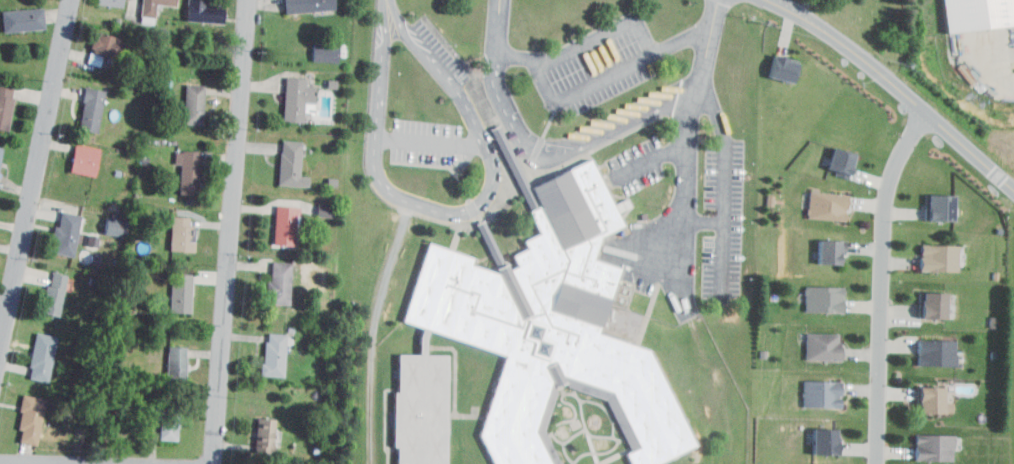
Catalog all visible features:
building: (111, 2)
road: (387, 4)
building: (308, 5)
building: (153, 6)
building: (205, 11)
building: (978, 13)
building: (25, 19)
road: (616, 28)
building: (109, 44)
parking lot: (440, 51)
building: (326, 52)
parking lot: (593, 67)
building: (782, 71)
road: (994, 72)
road: (896, 86)
road: (575, 90)
building: (299, 101)
building: (194, 104)
building: (6, 107)
building: (91, 109)
parking lot: (425, 142)
road: (431, 143)
road: (583, 143)
road: (655, 150)
building: (1, 153)
building: (85, 161)
building: (291, 164)
parking lot: (637, 164)
building: (842, 164)
road: (36, 166)
building: (190, 173)
road: (727, 179)
road: (690, 187)
building: (831, 206)
building: (940, 208)
building: (322, 209)
road: (455, 211)
parking lot: (725, 215)
road: (707, 220)
building: (287, 225)
road: (230, 232)
building: (68, 235)
building: (183, 236)
building: (833, 251)
building: (939, 257)
building: (280, 282)
road: (882, 282)
building: (182, 293)
building: (56, 294)
building: (826, 299)
building: (935, 305)
building: (551, 324)
building: (824, 347)
building: (939, 352)
building: (276, 353)
building: (43, 357)
building: (177, 364)
building: (824, 394)
building: (934, 400)
building: (420, 409)
building: (167, 418)
building: (31, 419)
building: (267, 435)
building: (828, 442)
building: (933, 446)
road: (1, 463)

